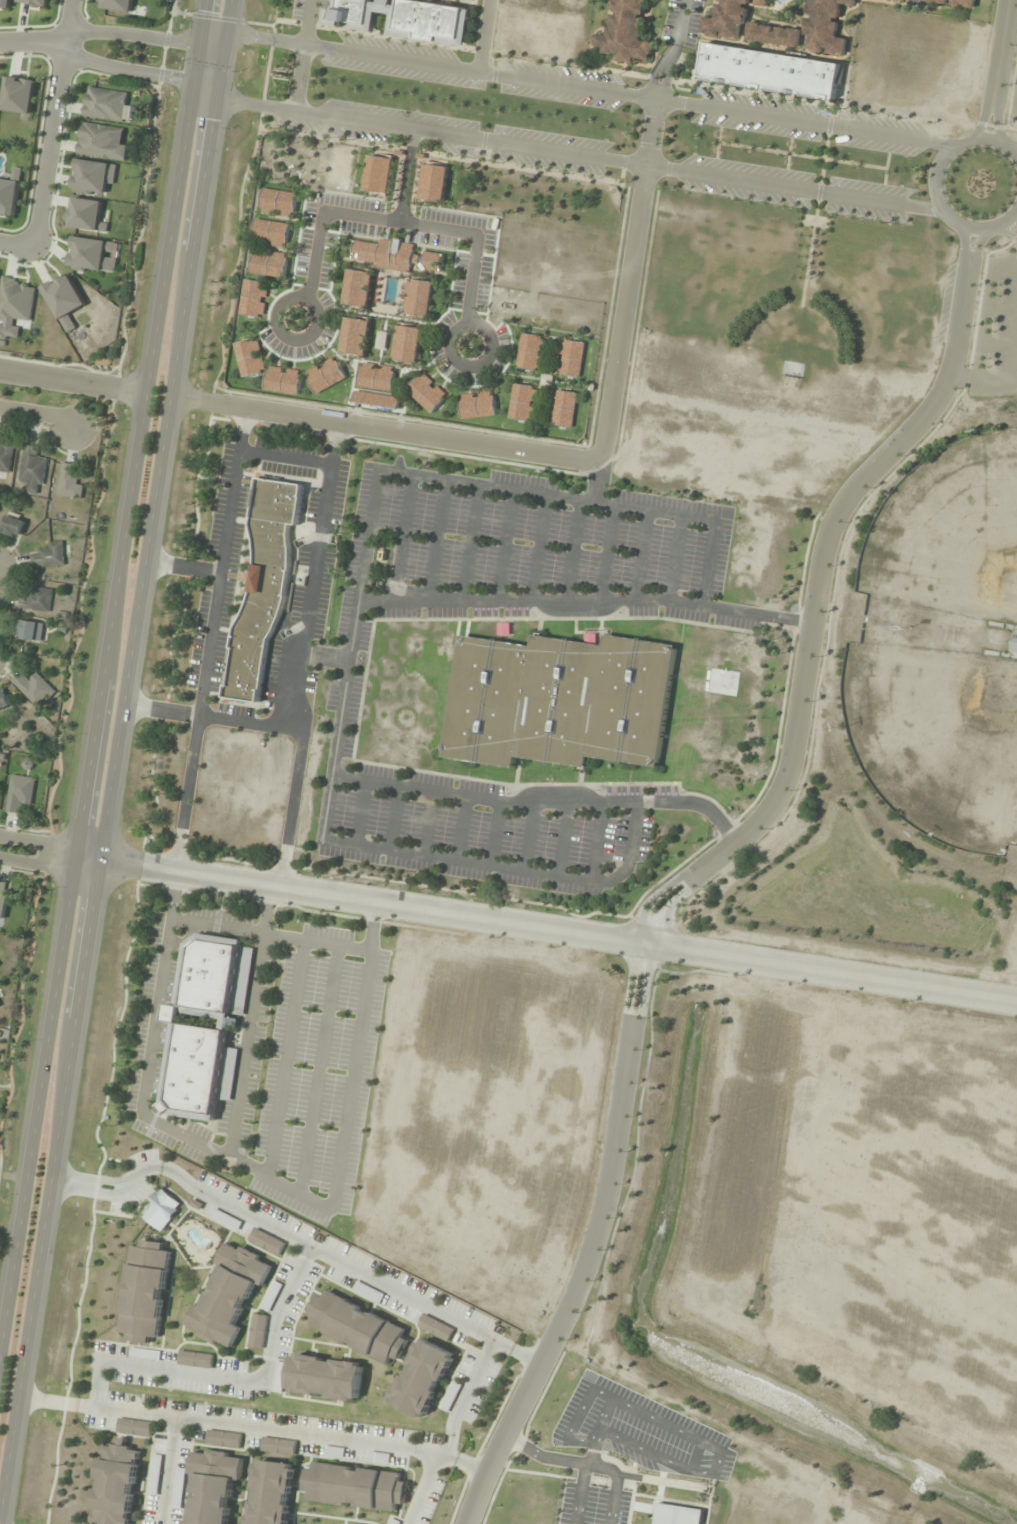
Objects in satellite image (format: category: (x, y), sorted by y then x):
building: (900, 0)
building: (34, 2)
building: (956, 3)
building: (5, 4)
building: (117, 5)
building: (407, 19)
building: (727, 20)
building: (825, 26)
building: (626, 32)
traffic signals: (225, 34)
road: (677, 34)
building: (774, 34)
road: (30, 44)
traffic signals: (202, 45)
road: (1000, 45)
building: (770, 71)
road: (506, 76)
road: (651, 81)
traffic signals: (196, 82)
road: (665, 83)
building: (18, 96)
parking lot: (1014, 97)
traffic signals: (215, 99)
building: (107, 105)
road: (983, 114)
road: (996, 118)
road: (50, 127)
building: (101, 142)
road: (498, 144)
park: (311, 164)
building: (376, 175)
building: (93, 177)
building: (431, 183)
road: (934, 183)
building: (9, 194)
building: (275, 203)
building: (84, 214)
parking lot: (448, 218)
building: (269, 234)
parking lot: (431, 239)
road: (9, 244)
parking lot: (303, 245)
park: (541, 248)
road: (966, 248)
road: (975, 249)
building: (89, 253)
building: (393, 254)
building: (267, 263)
road: (472, 263)
parking lot: (482, 269)
parking lot: (456, 281)
road: (307, 282)
building: (356, 288)
building: (417, 297)
building: (251, 298)
building: (63, 299)
building: (15, 306)
parking lot: (441, 325)
parking lot: (996, 332)
building: (351, 336)
building: (381, 340)
building: (405, 343)
building: (527, 351)
building: (248, 356)
building: (567, 356)
parking lot: (440, 362)
building: (323, 374)
building: (282, 380)
road: (72, 383)
building: (377, 384)
building: (424, 392)
building: (475, 403)
building: (522, 403)
building: (559, 407)
road: (39, 413)
building: (5, 457)
road: (563, 458)
building: (33, 470)
building: (70, 481)
building: (13, 524)
park: (950, 532)
building: (48, 555)
building: (263, 587)
building: (36, 600)
building: (31, 631)
building: (1014, 644)
road: (105, 669)
building: (35, 689)
building: (4, 701)
building: (559, 701)
park: (935, 738)
road: (114, 757)
building: (20, 792)
road: (66, 846)
road: (688, 878)
building: (1, 900)
road: (507, 920)
building: (203, 1027)
road: (134, 1179)
building: (160, 1210)
building: (226, 1220)
building: (266, 1242)
road: (336, 1262)
building: (145, 1292)
building: (367, 1292)
building: (228, 1296)
building: (270, 1296)
building: (358, 1327)
building: (435, 1328)
building: (257, 1331)
building: (144, 1354)
building: (195, 1360)
building: (325, 1378)
building: (422, 1378)
road: (249, 1381)
building: (449, 1396)
road: (462, 1398)
building: (134, 1427)
road: (253, 1427)
building: (223, 1439)
building: (277, 1446)
building: (333, 1452)
building: (379, 1458)
road: (169, 1471)
building: (154, 1475)
building: (116, 1485)
building: (214, 1486)
building: (355, 1487)
building: (178, 1489)
road: (421, 1489)
building: (271, 1492)
building: (677, 1515)
building: (393, 1522)

